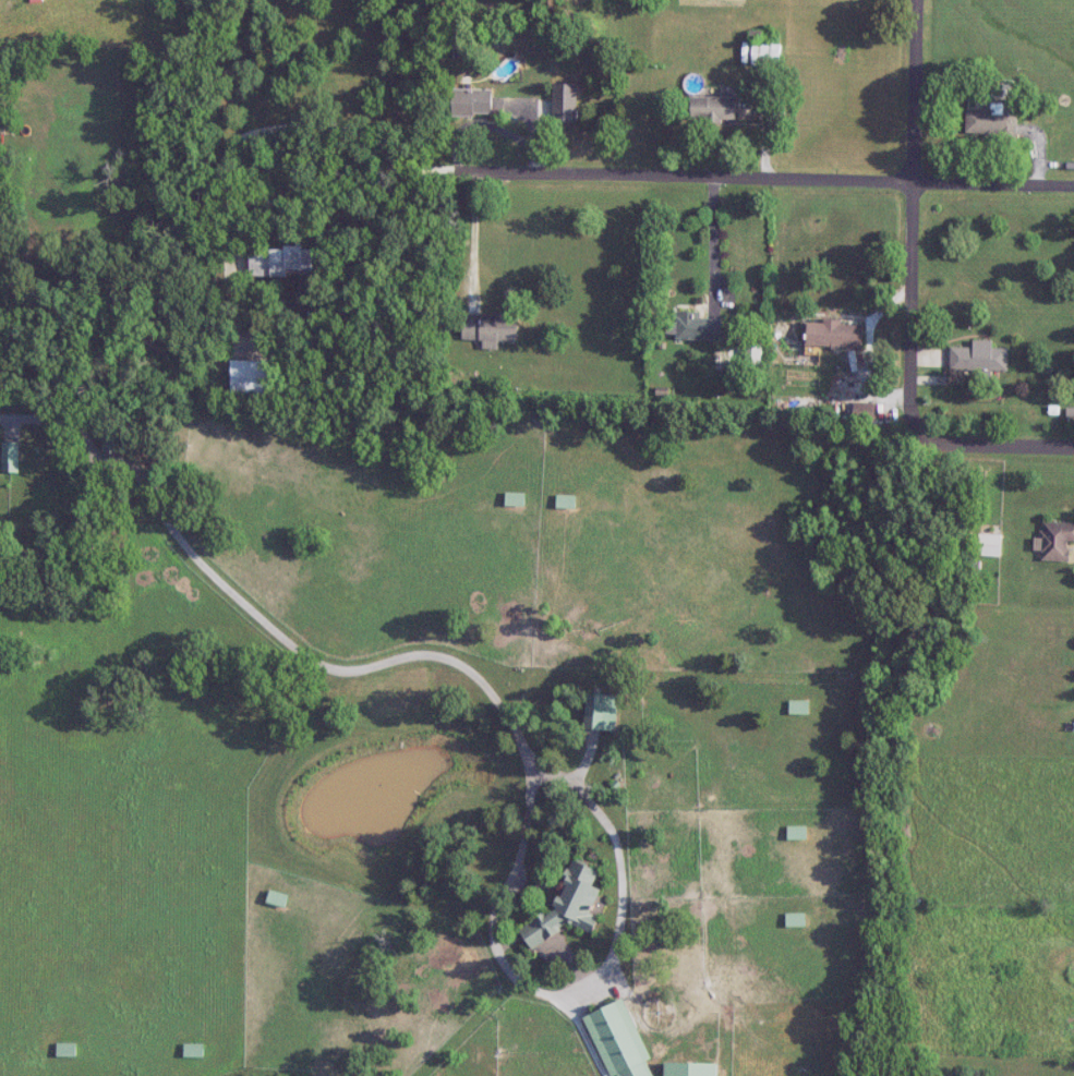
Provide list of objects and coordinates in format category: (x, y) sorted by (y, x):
building: (765, 55)
building: (475, 101)
building: (713, 109)
building: (993, 120)
road: (292, 121)
road: (774, 180)
road: (317, 201)
road: (913, 217)
road: (472, 238)
road: (711, 244)
building: (283, 262)
building: (491, 327)
building: (697, 327)
building: (833, 335)
building: (978, 358)
road: (990, 439)
building: (118, 443)
building: (12, 457)
building: (514, 499)
building: (565, 501)
building: (1057, 541)
building: (988, 546)
road: (266, 624)
building: (798, 708)
building: (600, 713)
building: (795, 833)
building: (278, 898)
building: (566, 907)
building: (794, 920)
road: (574, 991)
building: (618, 1041)
building: (69, 1050)
building: (196, 1050)
building: (689, 1069)

